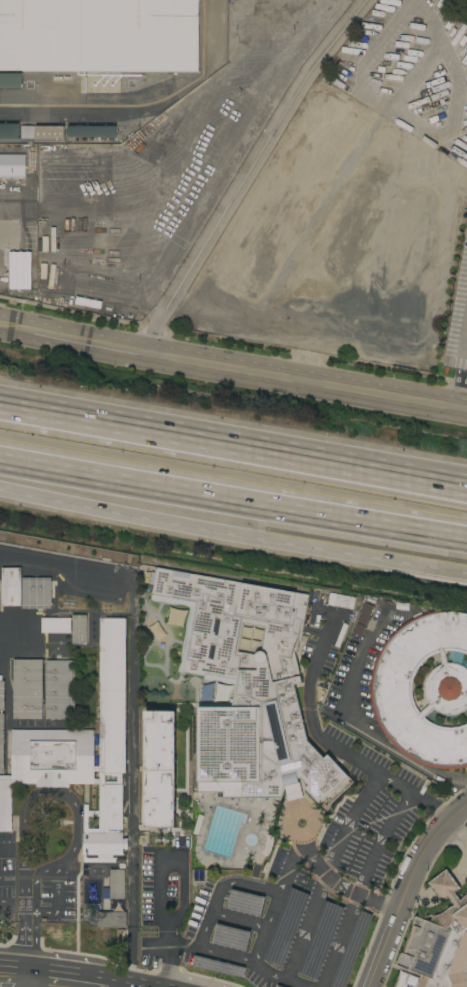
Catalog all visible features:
building: (99, 35)
parking lot: (409, 70)
building: (11, 80)
road: (363, 93)
road: (455, 93)
road: (142, 104)
building: (9, 131)
building: (91, 131)
building: (49, 133)
road: (247, 169)
road: (16, 324)
building: (459, 324)
parking lot: (459, 324)
road: (89, 338)
road: (307, 378)
road: (461, 388)
road: (233, 450)
road: (233, 496)
road: (131, 512)
road: (365, 552)
building: (11, 587)
building: (36, 593)
building: (340, 601)
building: (365, 612)
building: (55, 625)
building: (78, 629)
building: (157, 631)
road: (9, 651)
building: (1, 678)
parking lot: (357, 679)
building: (27, 689)
building: (59, 689)
building: (423, 689)
building: (248, 690)
road: (310, 720)
building: (1, 725)
road: (354, 727)
building: (82, 753)
building: (160, 769)
road: (427, 804)
road: (75, 819)
road: (347, 823)
road: (449, 833)
road: (379, 840)
road: (11, 849)
road: (418, 855)
road: (170, 864)
road: (22, 870)
road: (42, 871)
road: (392, 874)
road: (11, 880)
road: (448, 880)
building: (115, 887)
road: (344, 887)
building: (445, 887)
parking lot: (290, 889)
road: (450, 895)
road: (415, 896)
road: (274, 903)
road: (39, 915)
road: (210, 915)
building: (111, 919)
road: (239, 920)
building: (325, 924)
road: (24, 925)
road: (305, 930)
building: (357, 930)
road: (340, 940)
road: (184, 948)
building: (438, 948)
road: (169, 955)
road: (377, 955)
building: (309, 963)
road: (14, 967)
road: (69, 973)
road: (28, 978)
road: (273, 978)
building: (405, 981)
road: (126, 983)

